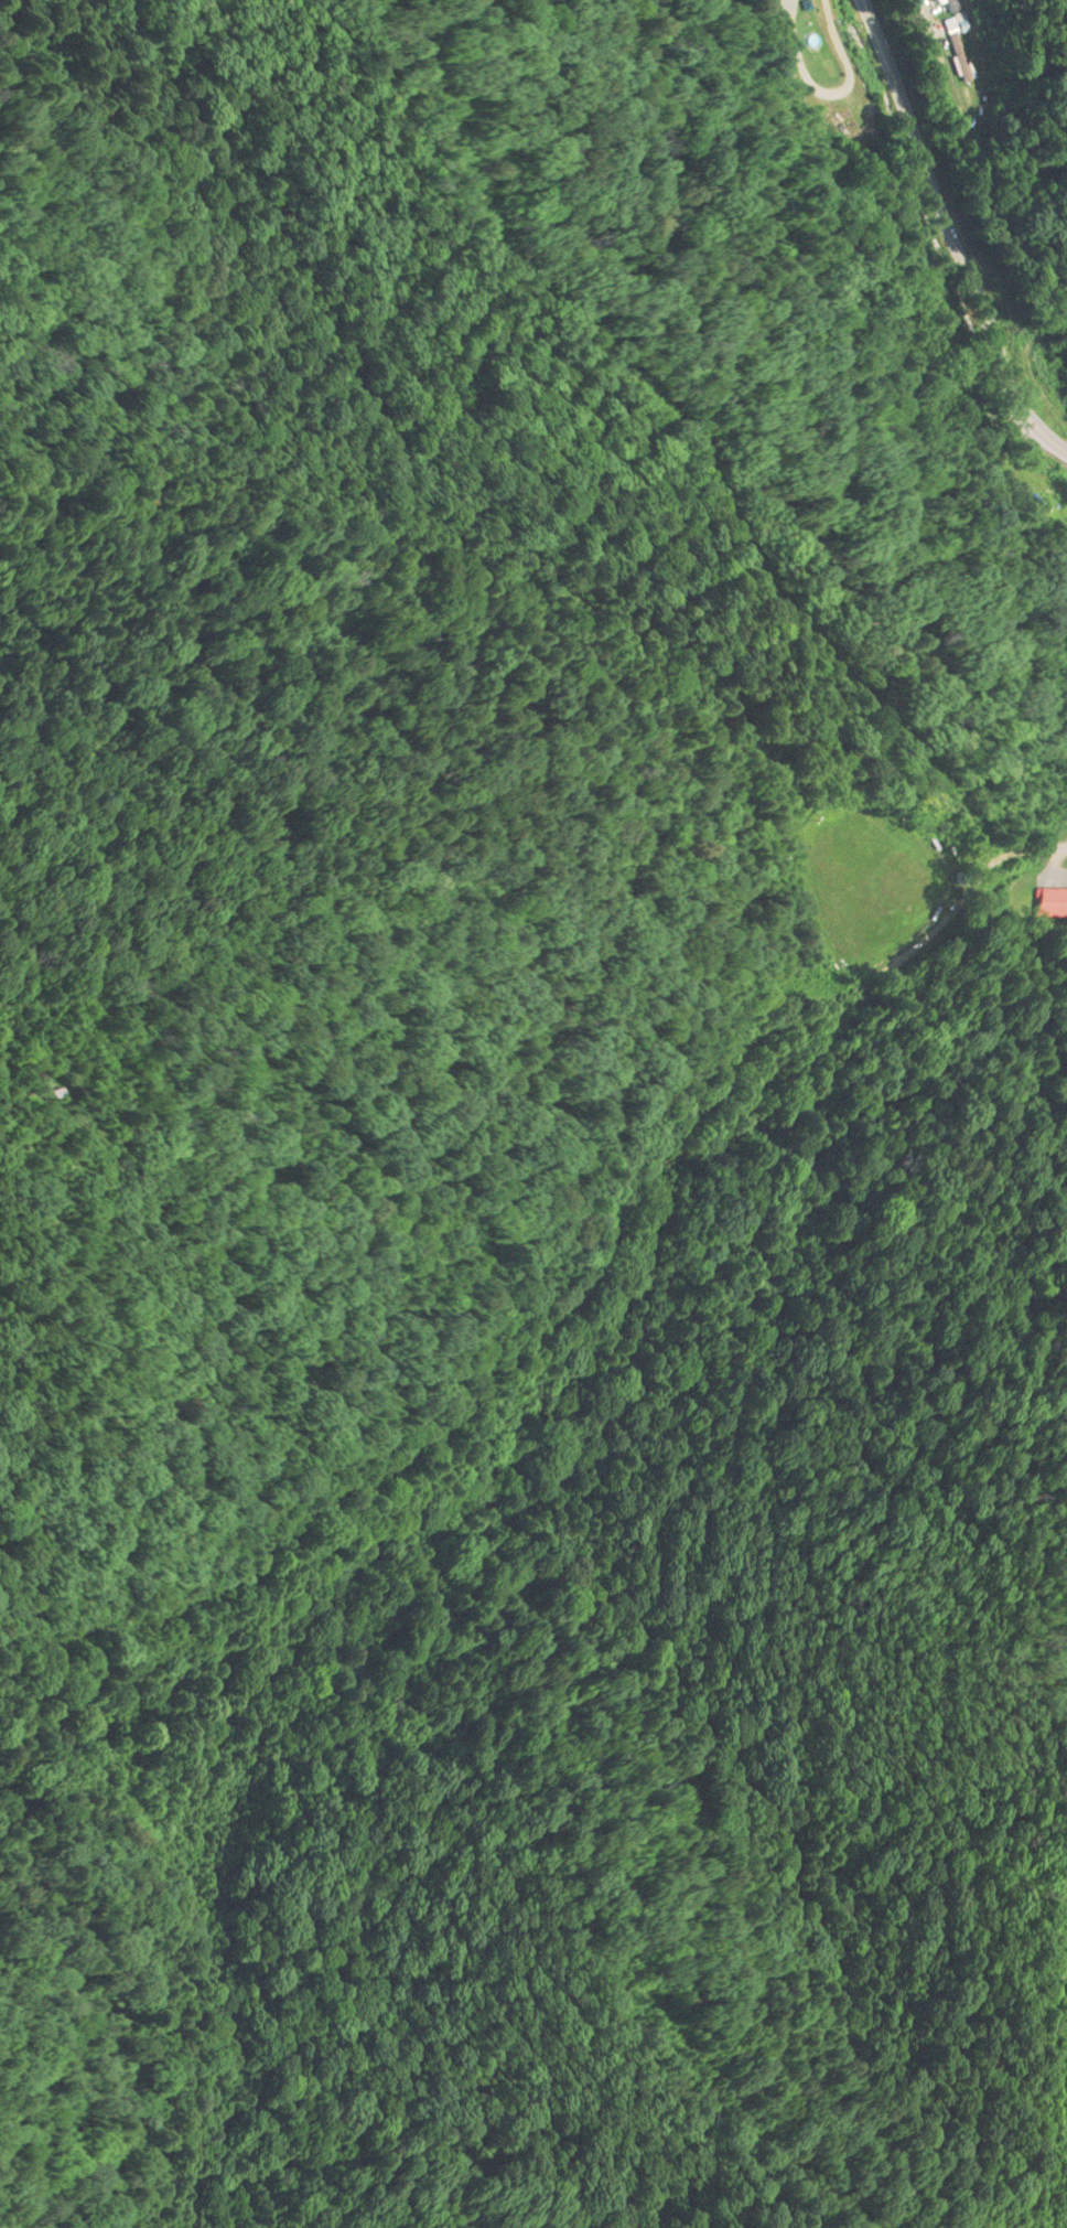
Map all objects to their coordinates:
building: (953, 7)
building: (960, 63)
road: (953, 237)
road: (720, 469)
building: (1052, 904)

